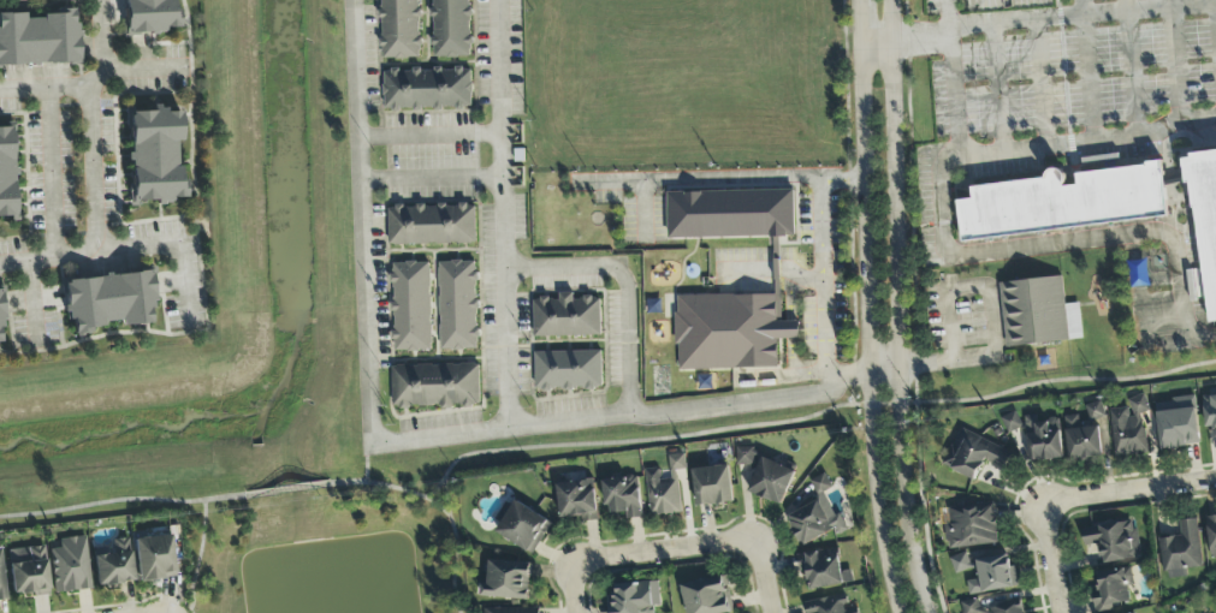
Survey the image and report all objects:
building: (148, 16)
road: (1082, 17)
road: (858, 22)
building: (399, 29)
building: (450, 29)
building: (38, 38)
road: (921, 41)
road: (874, 43)
road: (140, 64)
road: (1176, 64)
road: (1131, 66)
road: (1089, 70)
road: (1064, 71)
road: (955, 79)
road: (1038, 84)
building: (427, 89)
road: (997, 89)
road: (43, 93)
road: (431, 135)
road: (1089, 141)
building: (154, 155)
road: (94, 172)
building: (6, 173)
road: (51, 173)
road: (714, 175)
road: (433, 179)
road: (821, 194)
building: (1064, 203)
road: (504, 214)
building: (730, 215)
building: (1205, 219)
road: (363, 222)
building: (432, 225)
road: (183, 242)
road: (1061, 245)
road: (770, 279)
road: (628, 284)
road: (36, 298)
building: (108, 300)
building: (458, 305)
building: (411, 306)
road: (898, 306)
road: (823, 313)
road: (992, 313)
building: (1038, 314)
building: (568, 316)
road: (1140, 326)
road: (791, 327)
road: (870, 328)
building: (1, 329)
building: (730, 331)
road: (886, 368)
building: (568, 371)
road: (852, 374)
road: (790, 375)
building: (705, 382)
building: (435, 386)
building: (1095, 410)
road: (607, 417)
road: (808, 418)
building: (1012, 423)
building: (1176, 423)
building: (1128, 428)
building: (1044, 440)
building: (1082, 441)
building: (974, 454)
building: (746, 457)
road: (366, 464)
building: (771, 482)
building: (712, 486)
building: (664, 487)
road: (287, 490)
road: (1129, 490)
road: (433, 492)
building: (623, 498)
road: (121, 500)
building: (577, 500)
road: (438, 507)
building: (815, 516)
building: (971, 526)
building: (523, 528)
building: (1211, 537)
building: (1113, 541)
building: (1181, 552)
road: (664, 555)
building: (153, 558)
road: (198, 559)
road: (1050, 560)
building: (960, 564)
building: (70, 565)
building: (821, 570)
building: (28, 571)
building: (993, 576)
building: (1, 578)
road: (765, 579)
building: (505, 581)
road: (573, 589)
building: (1111, 589)
building: (707, 596)
building: (635, 597)
building: (829, 605)
building: (991, 608)
building: (512, 612)
building: (856, 612)

